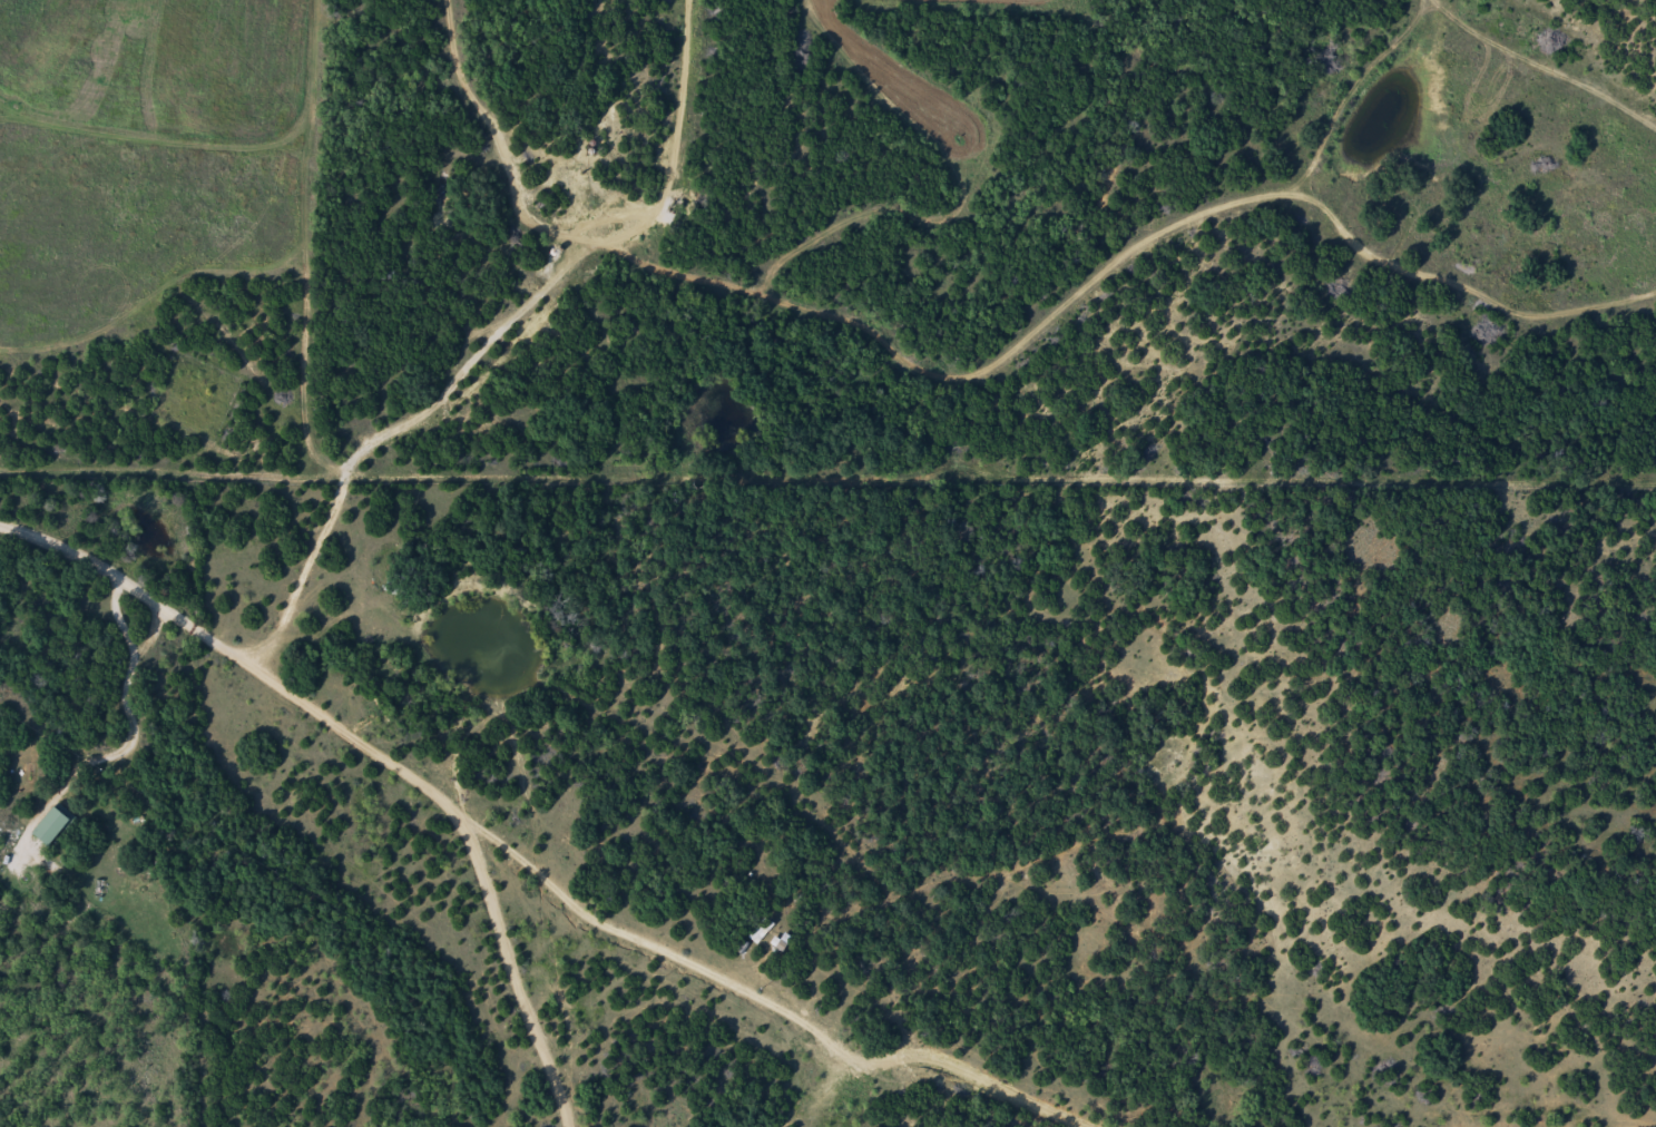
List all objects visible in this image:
road: (1581, 78)
road: (669, 116)
road: (22, 155)
road: (1148, 256)
road: (560, 281)
road: (437, 434)
road: (283, 685)
building: (53, 830)
building: (761, 934)
road: (777, 997)
road: (536, 1021)

